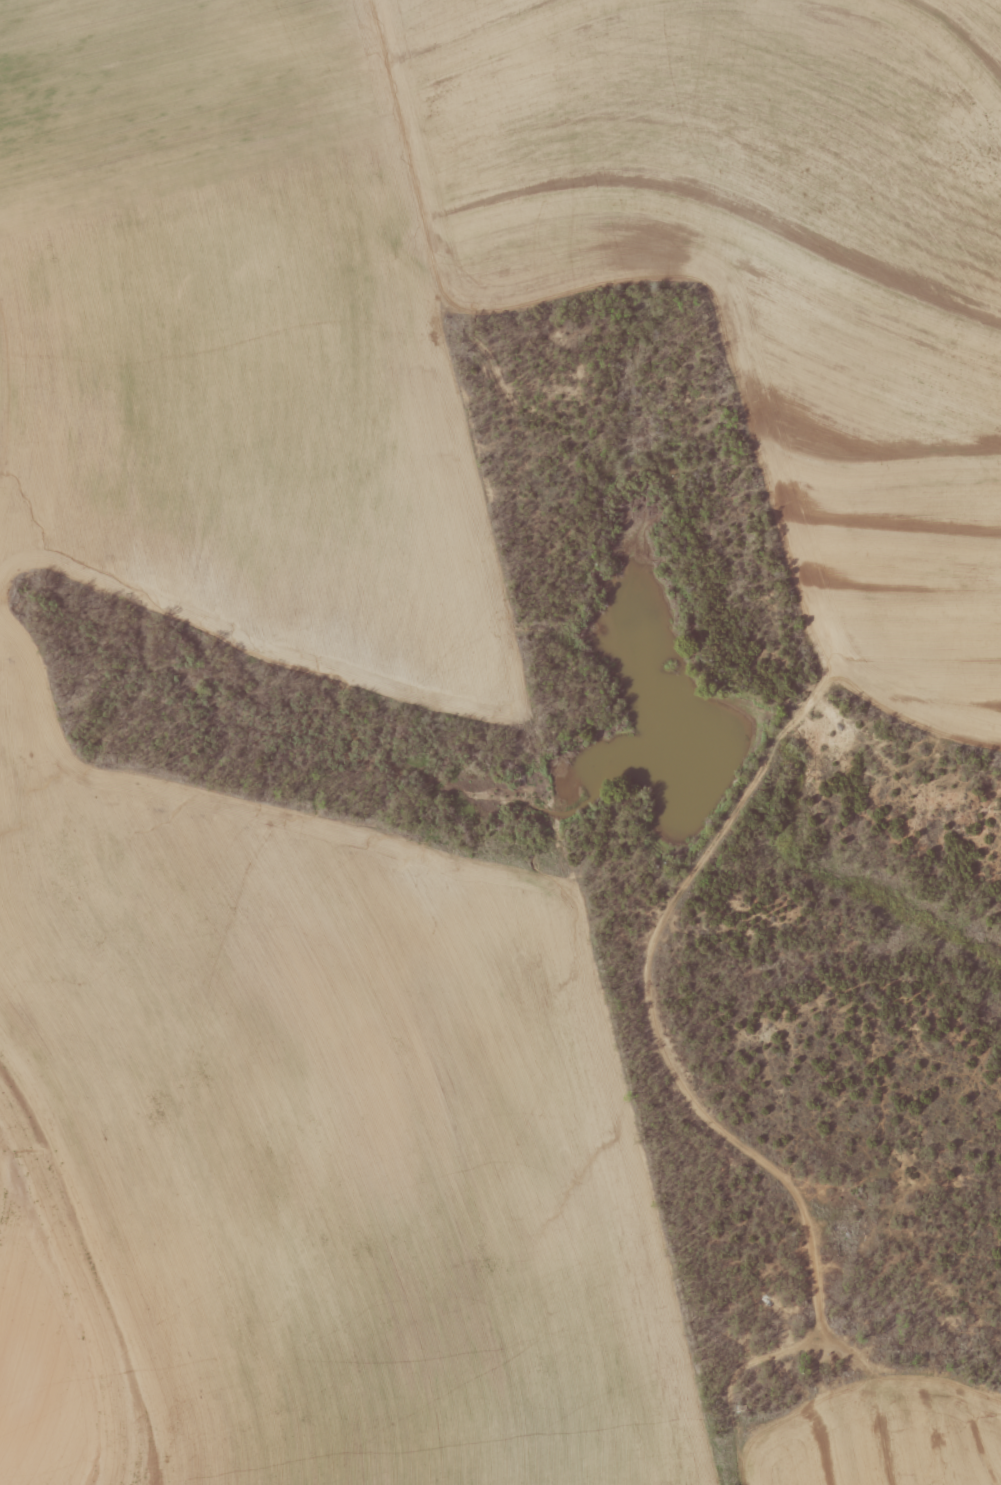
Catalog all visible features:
road: (824, 671)

